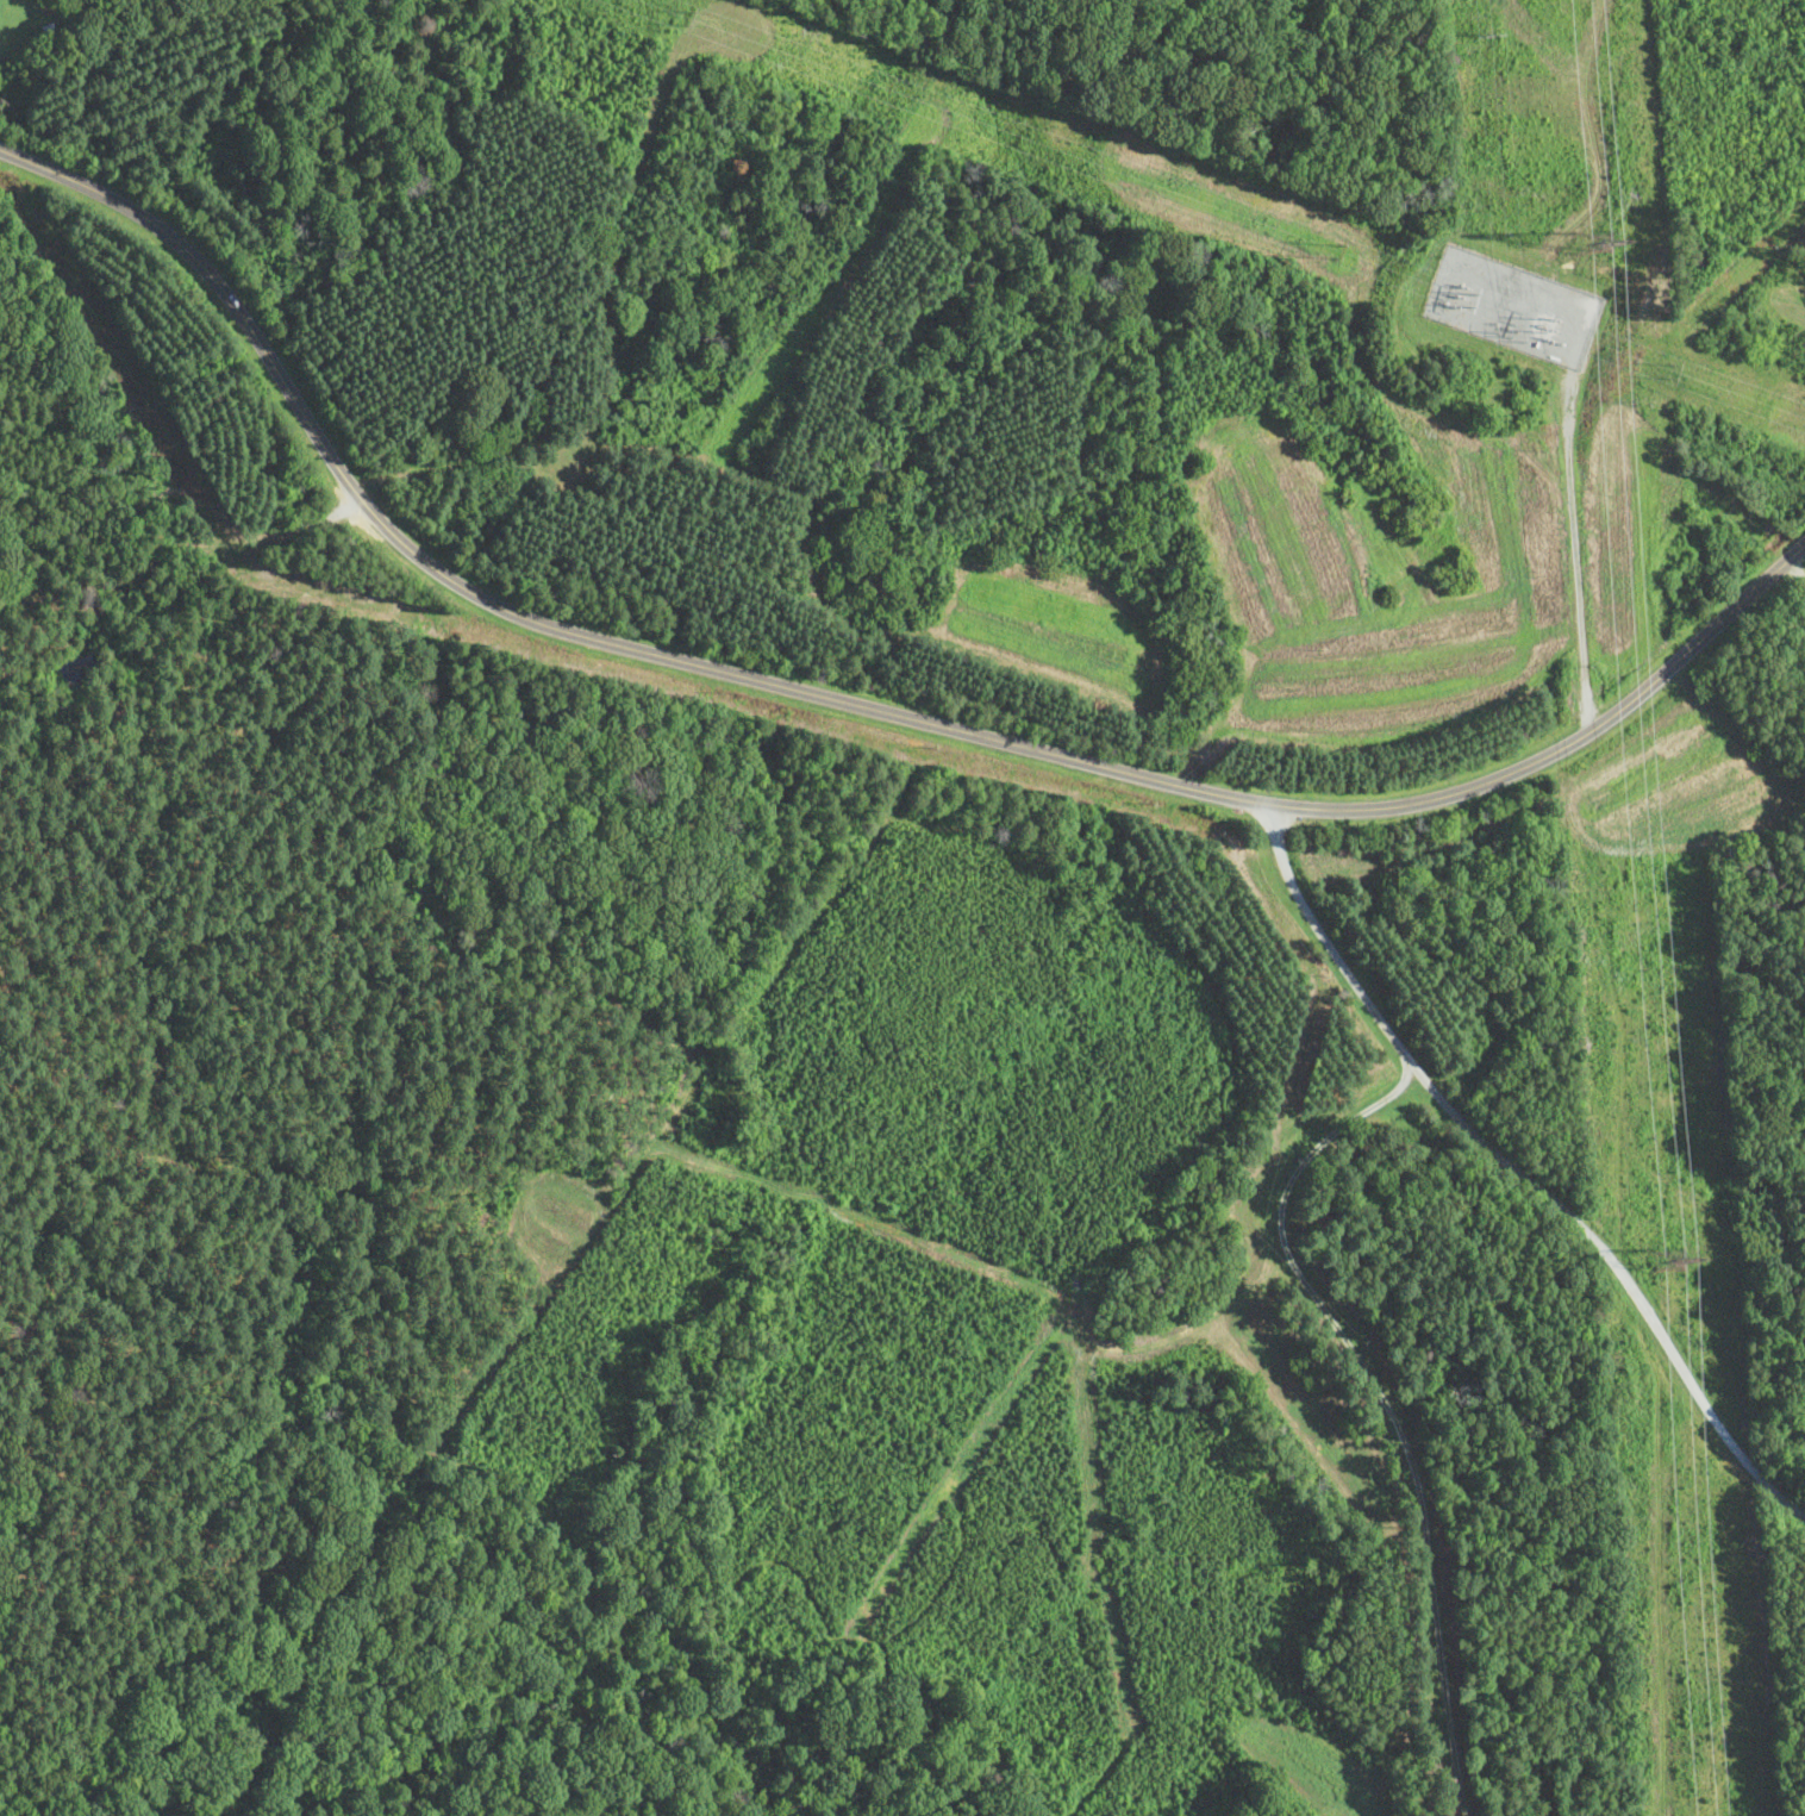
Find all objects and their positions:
power tower: (1489, 37)
power tower: (1600, 245)
power tower: (1336, 252)
power substation: (1512, 308)
power tower: (1525, 316)
power tower: (1674, 369)
road: (847, 700)
road: (1520, 1172)
power tower: (1668, 1271)

